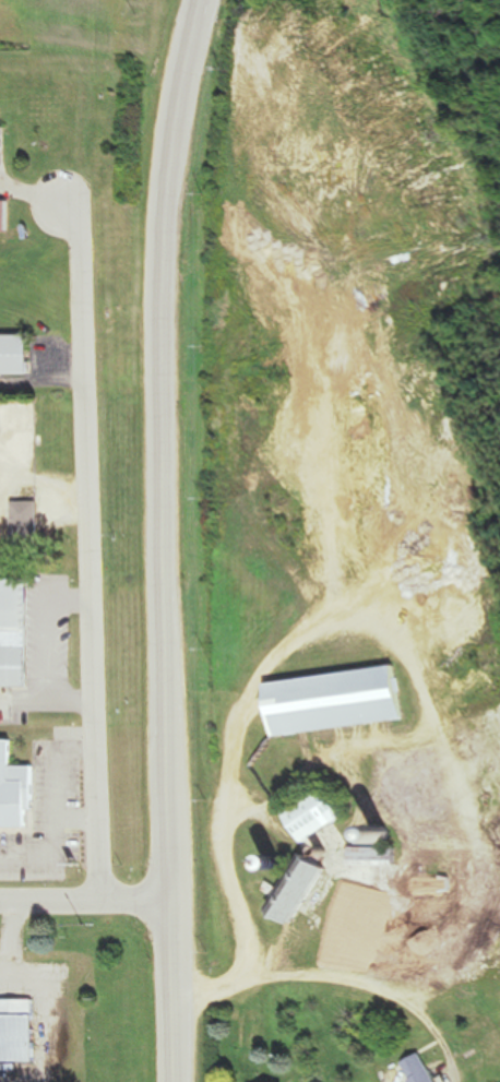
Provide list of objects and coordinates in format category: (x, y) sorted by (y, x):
building: (3, 127)
building: (16, 356)
building: (0, 418)
building: (26, 523)
road: (168, 538)
road: (91, 549)
building: (14, 633)
building: (338, 699)
building: (15, 788)
building: (314, 812)
building: (373, 856)
building: (299, 888)
road: (85, 900)
road: (342, 1002)
building: (19, 1030)
building: (421, 1069)

